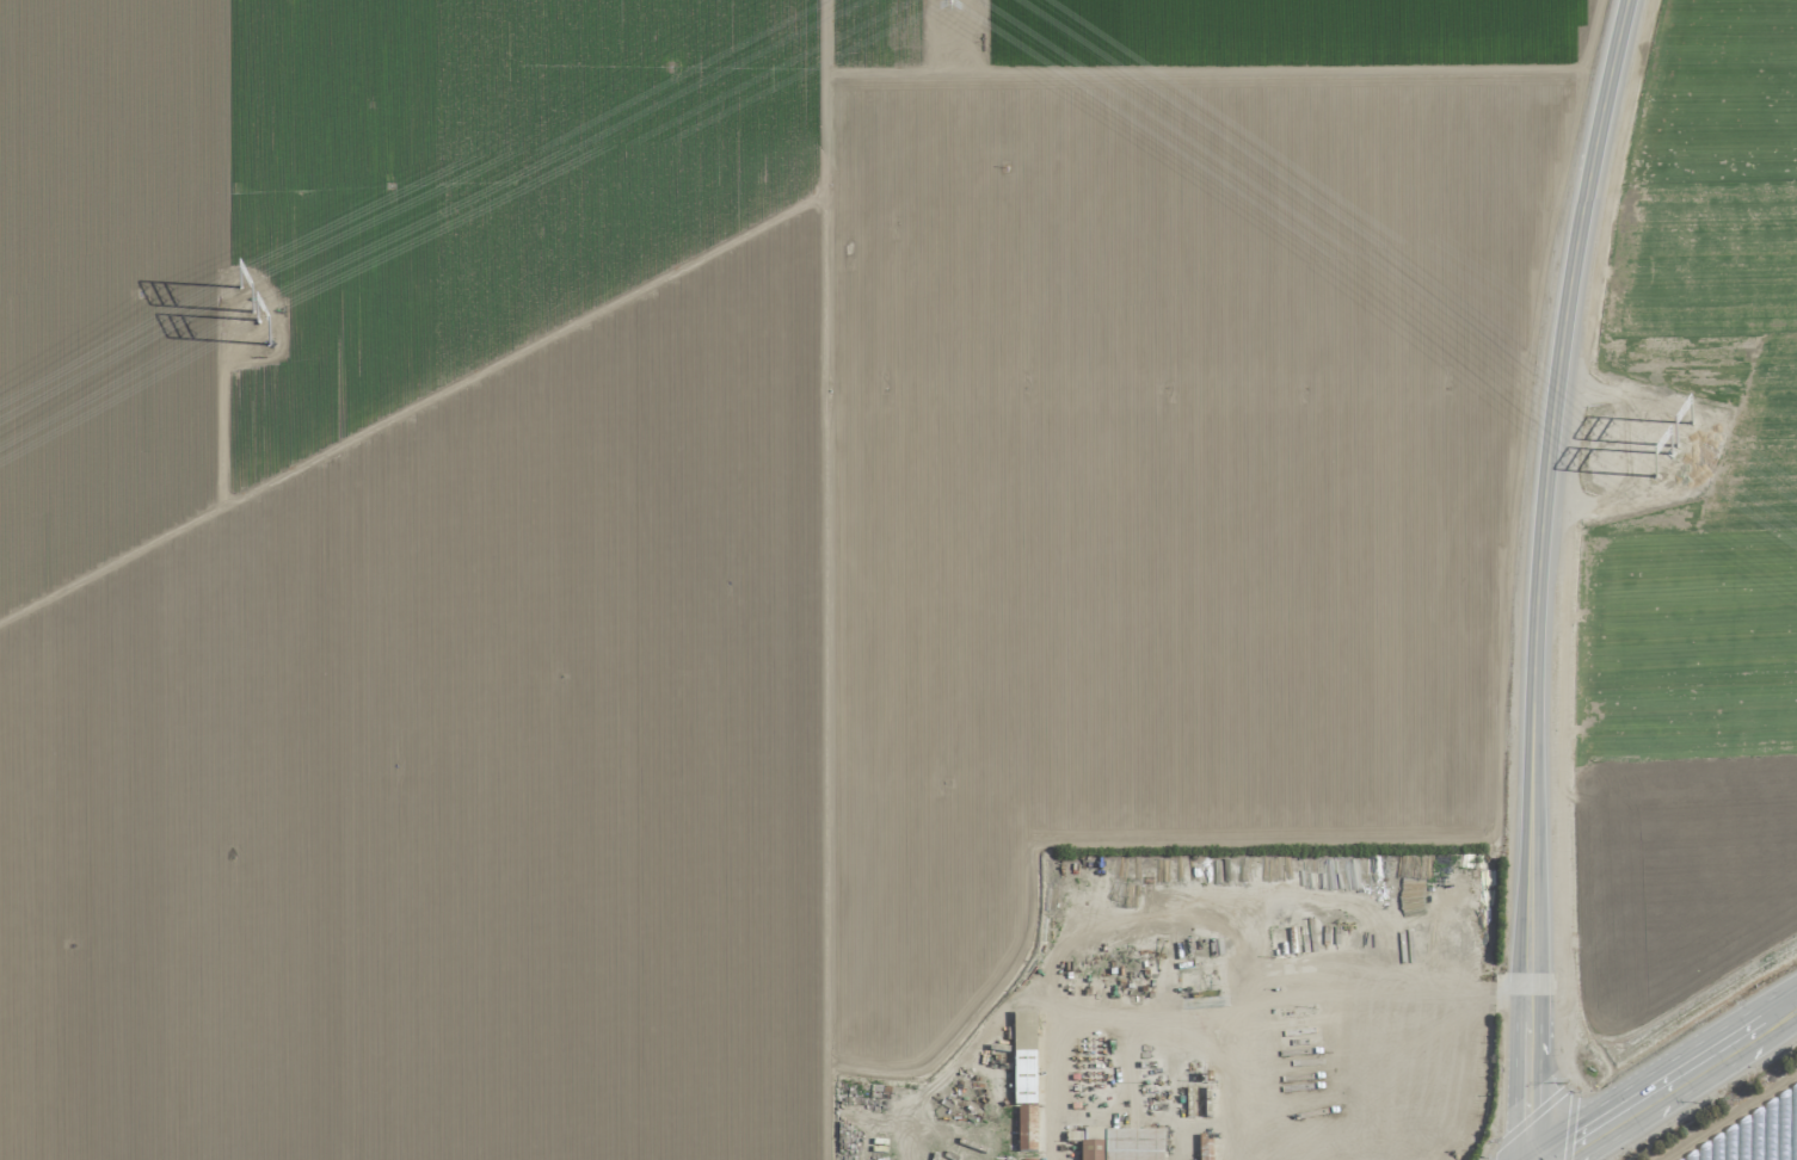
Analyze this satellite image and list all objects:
power tower: (247, 291)
power tower: (265, 325)
power tower: (1694, 424)
power tower: (1672, 455)
crop: (719, 525)
crop: (1688, 542)
road: (1544, 576)
road: (824, 579)
building: (1023, 1057)
road: (1414, 1060)
road: (1672, 1080)
crop: (1744, 1125)
building: (1026, 1128)
building: (1024, 1159)

